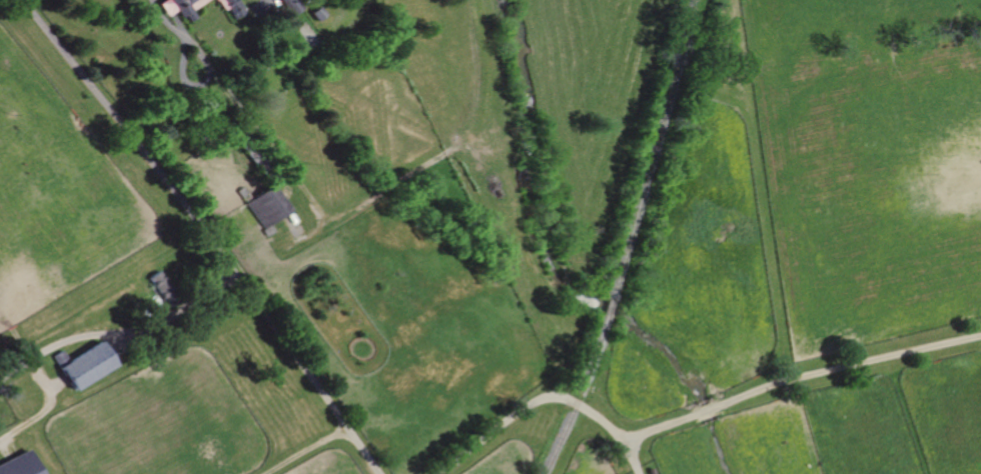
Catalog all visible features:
building: (179, 6)
building: (292, 6)
building: (230, 7)
road: (197, 56)
railway: (638, 202)
building: (268, 207)
road: (196, 234)
road: (116, 331)
building: (88, 366)
road: (797, 377)
road: (500, 424)
road: (613, 432)
railway: (557, 438)
building: (20, 465)

